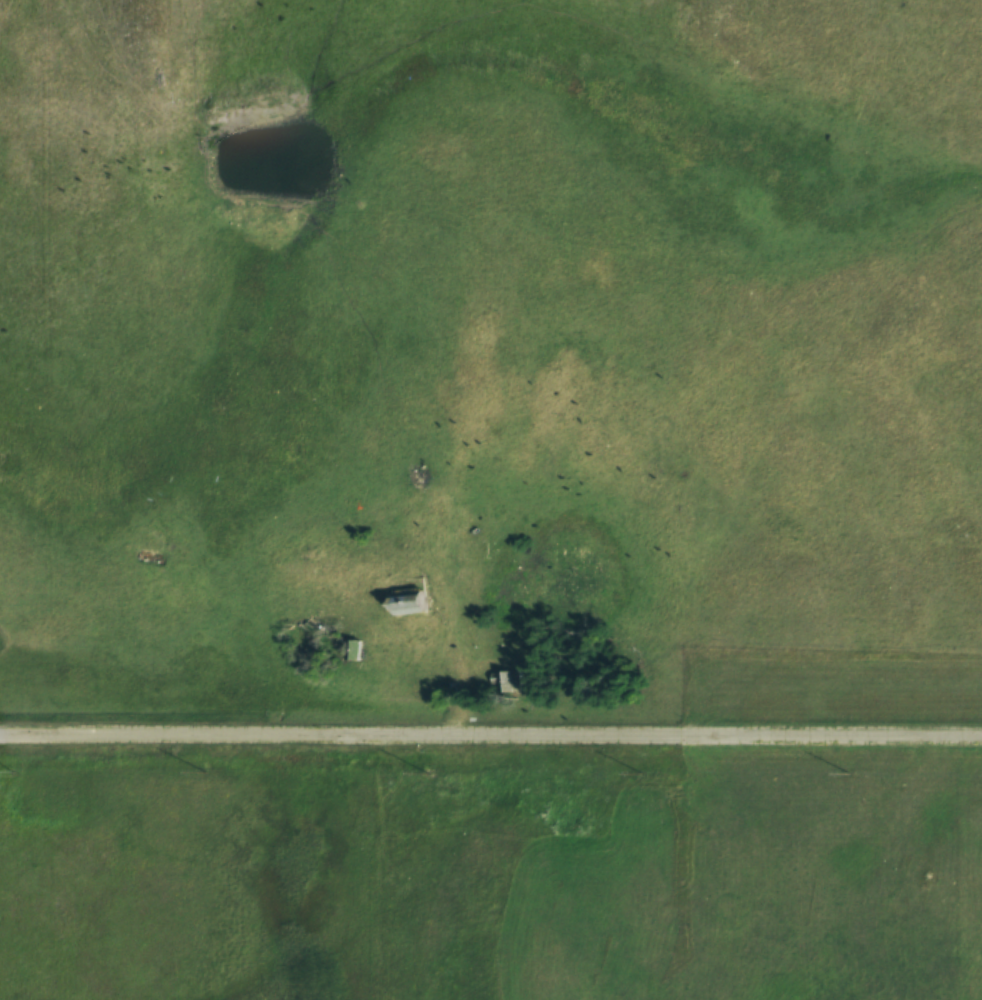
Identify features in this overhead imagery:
road: (491, 734)

